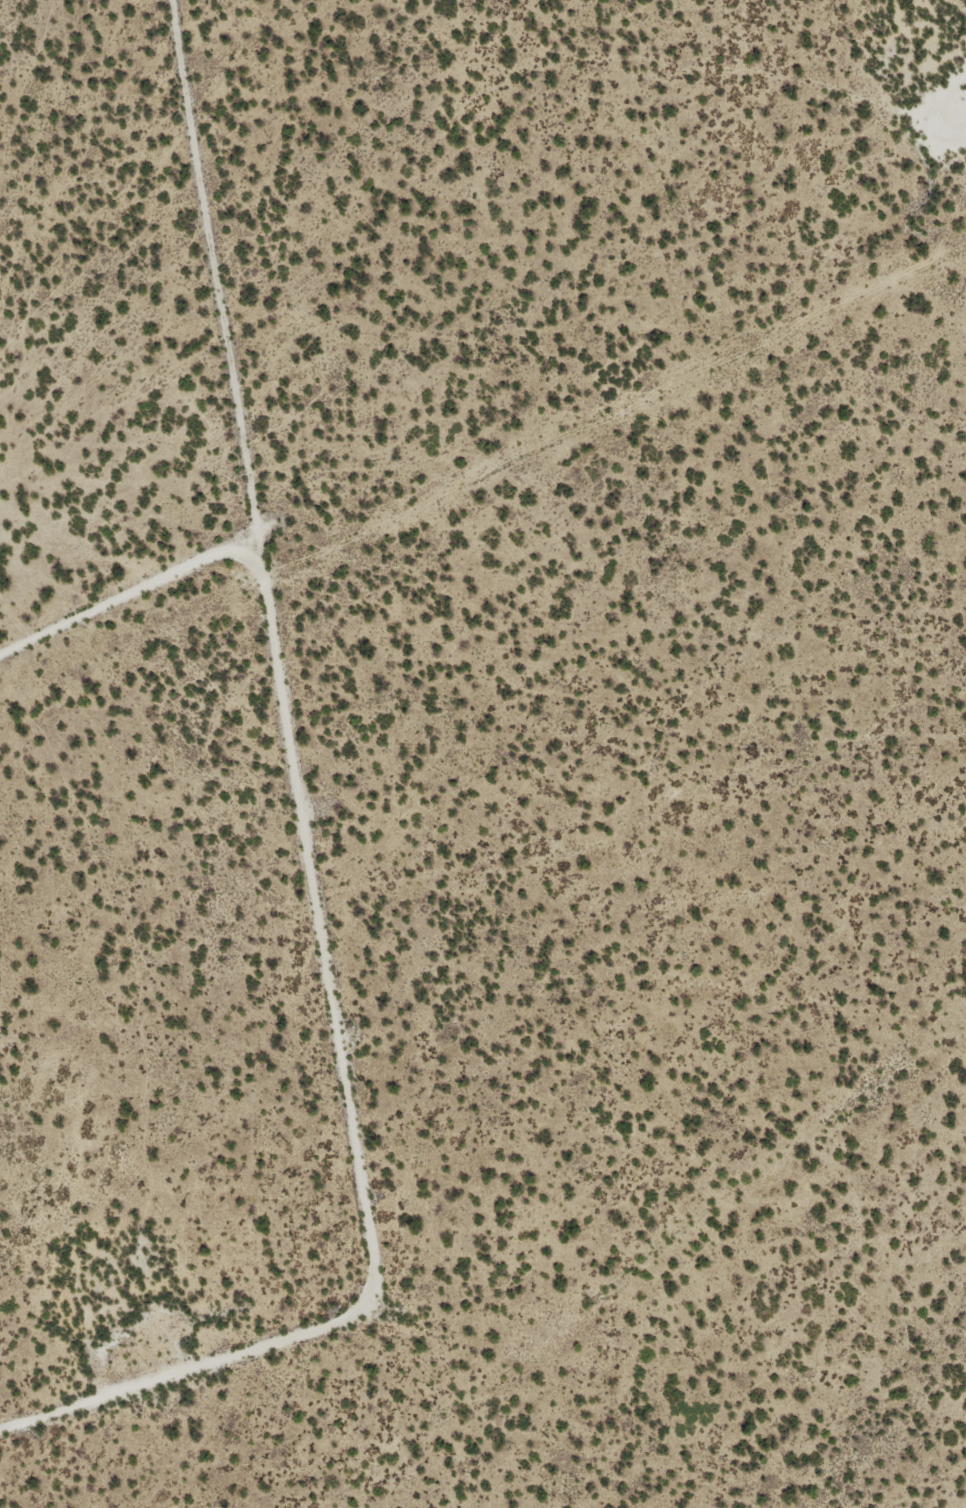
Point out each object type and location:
road: (41, 1415)

